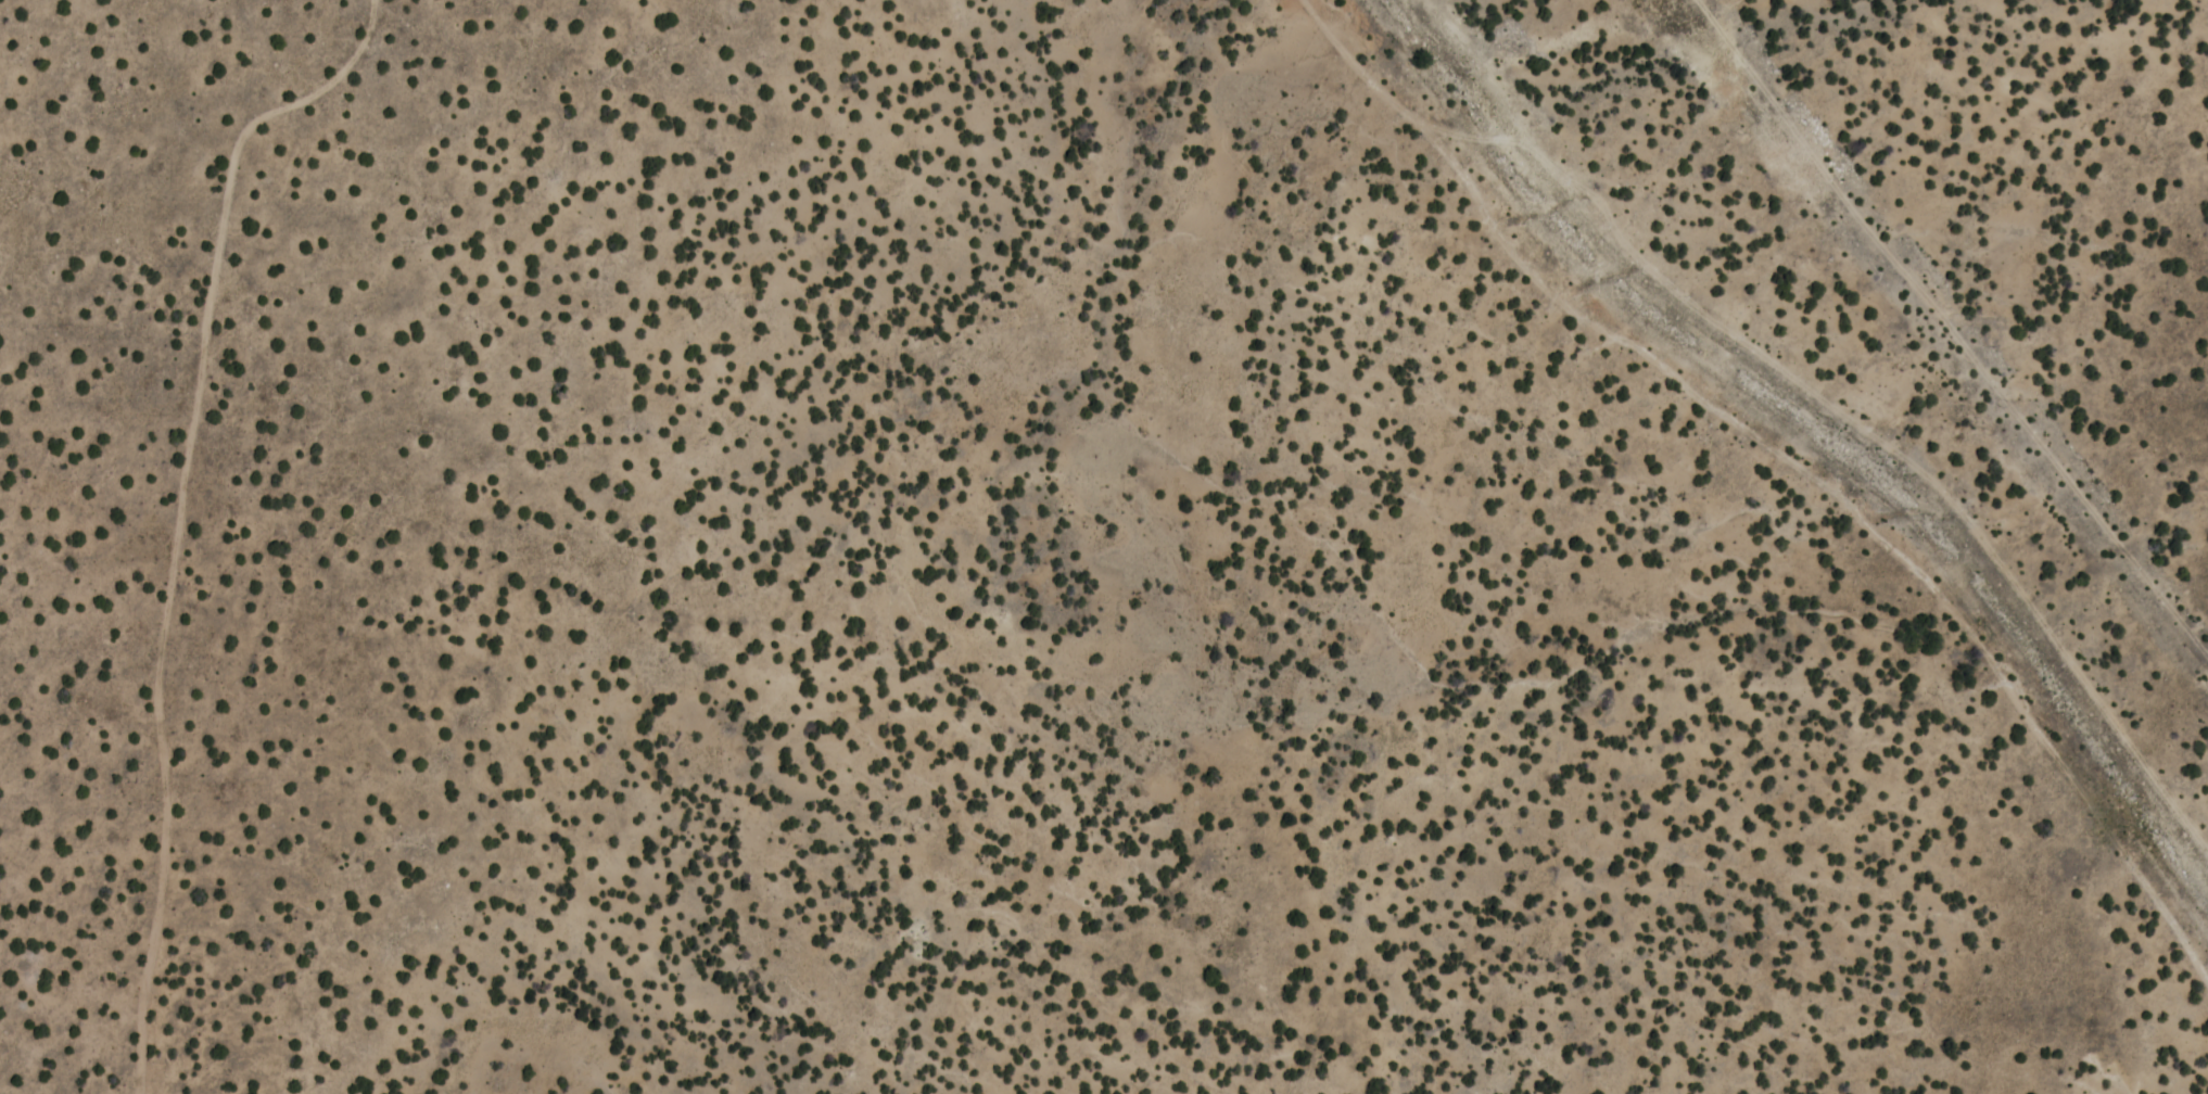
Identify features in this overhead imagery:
road: (181, 549)

